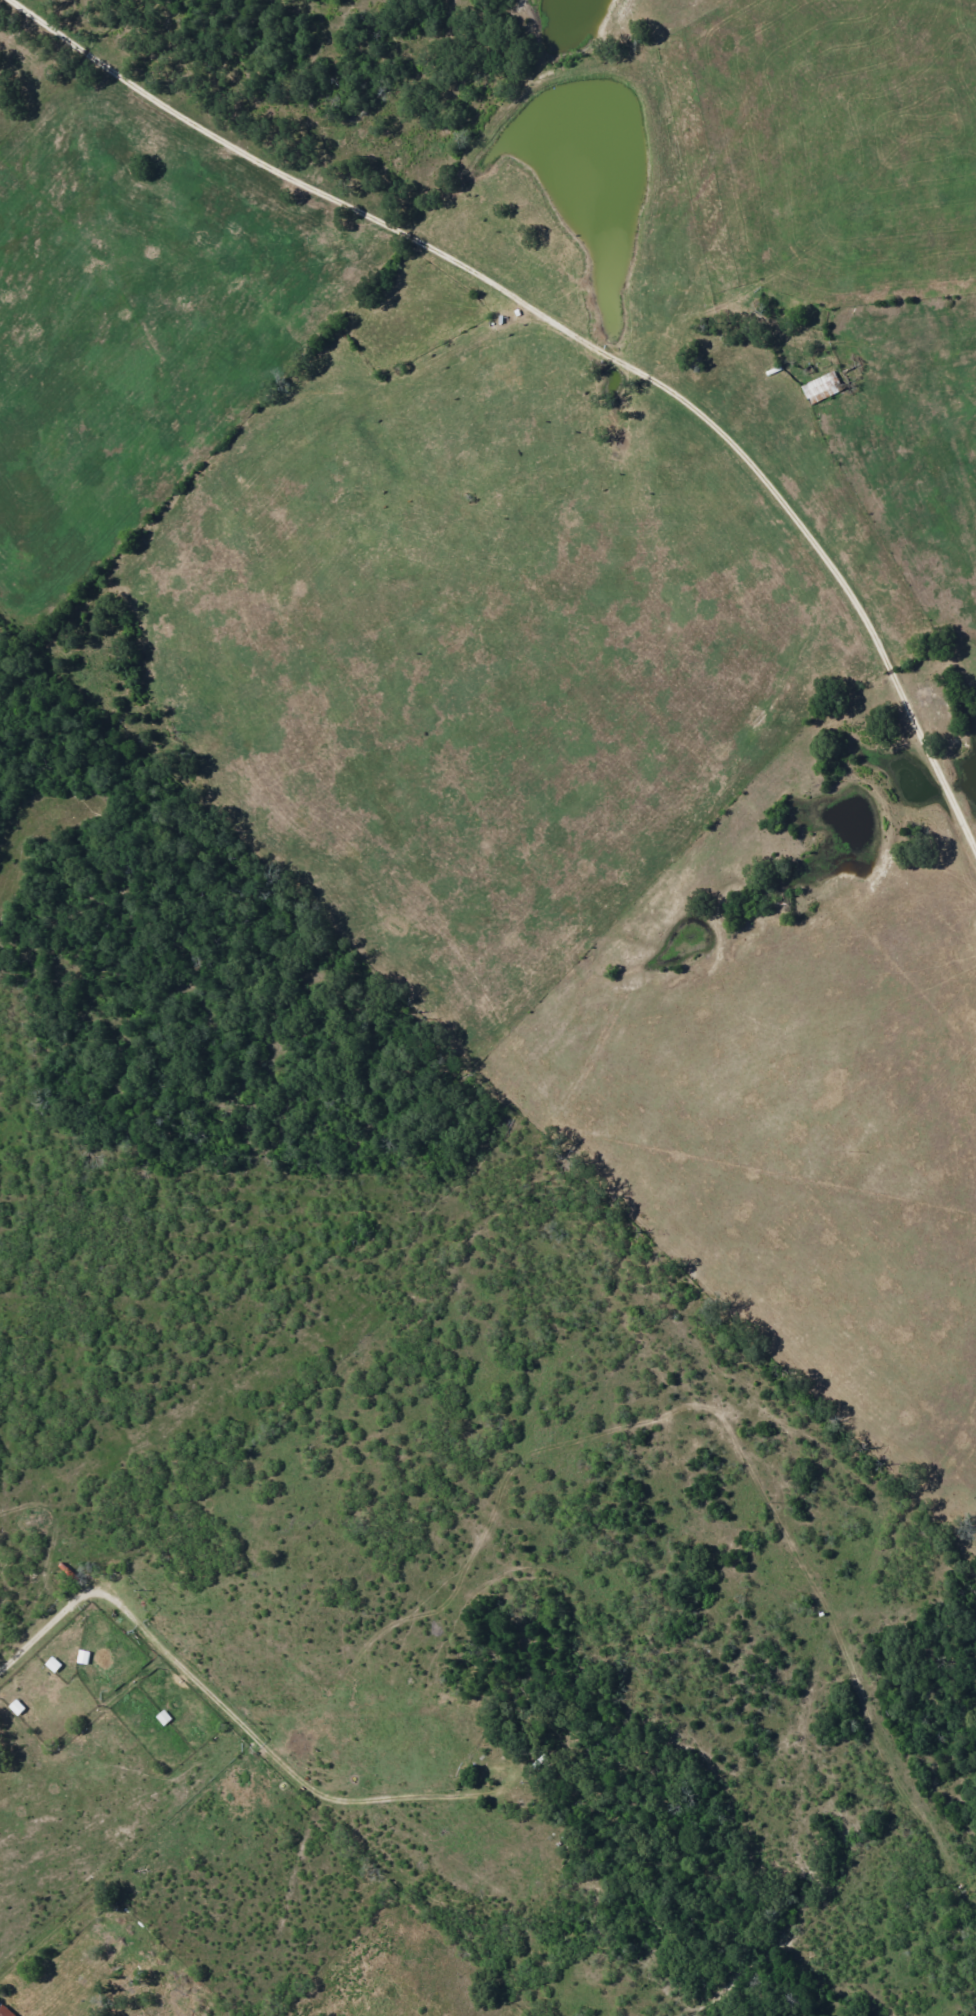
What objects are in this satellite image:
building: (85, 1658)
building: (6, 2012)

